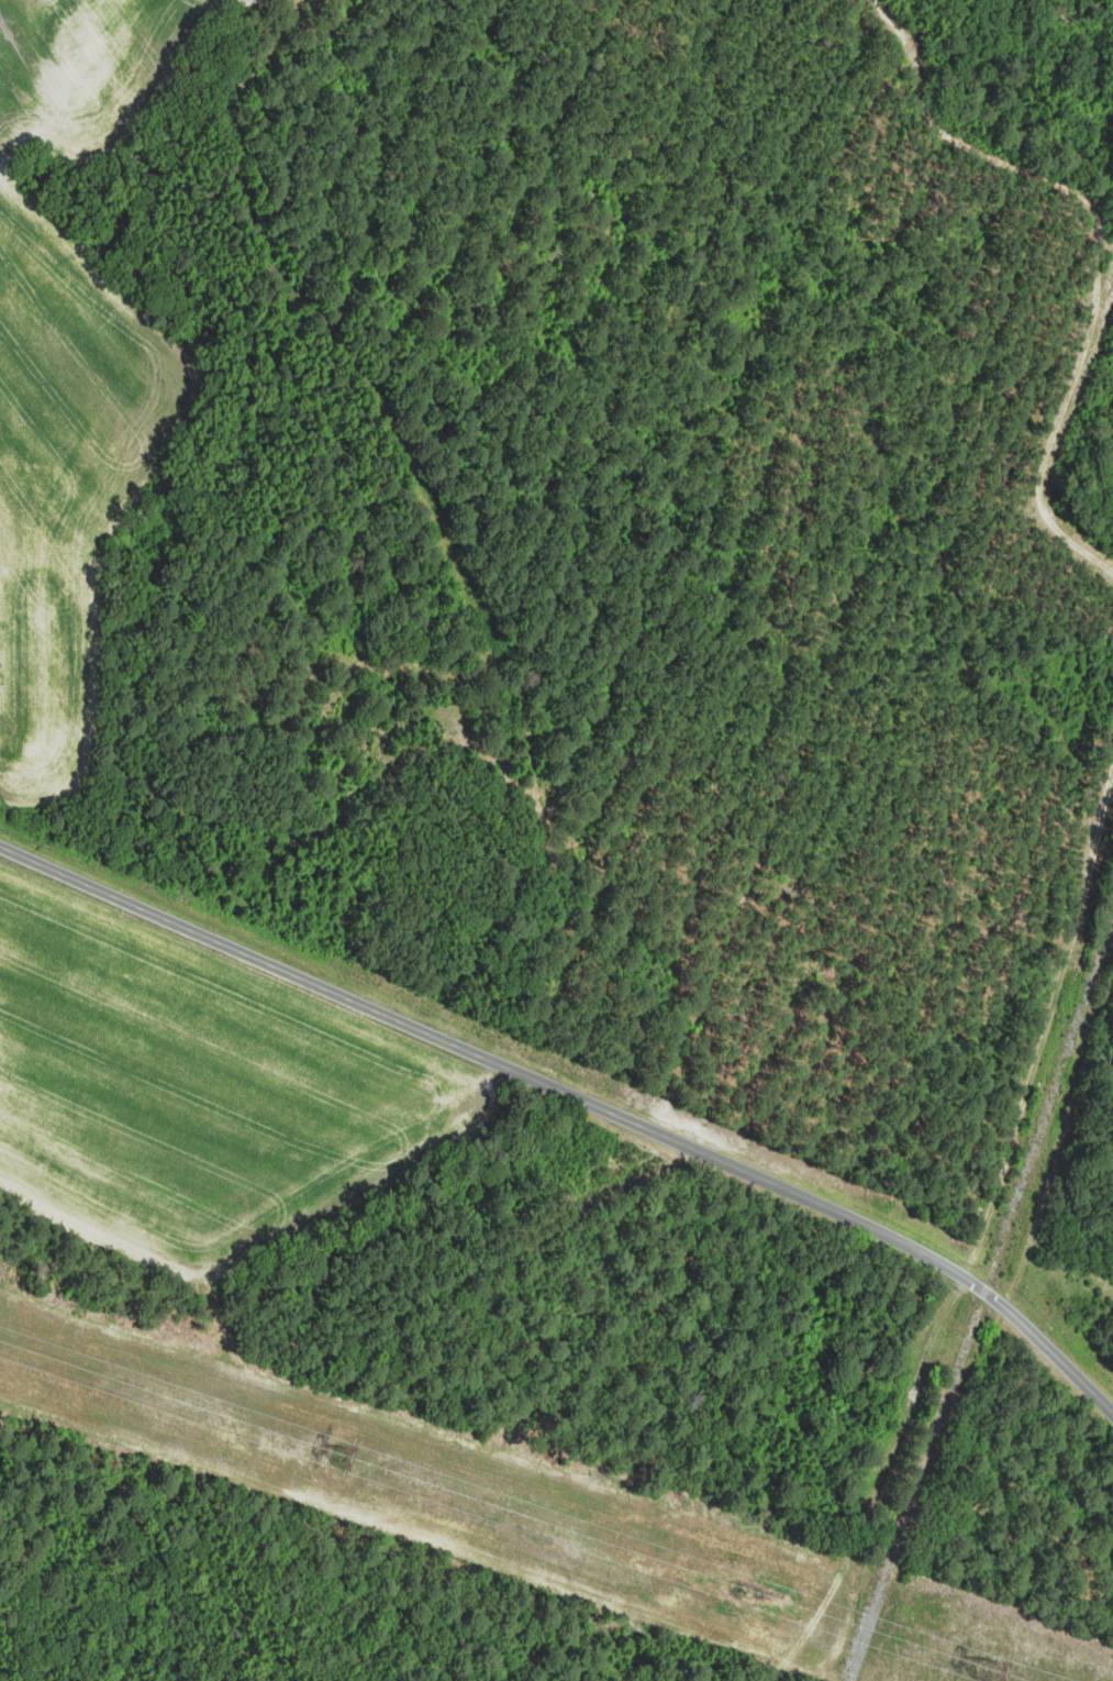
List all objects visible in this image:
road: (576, 1097)
railway: (980, 1301)
power tower: (345, 1451)
power tower: (998, 1659)

